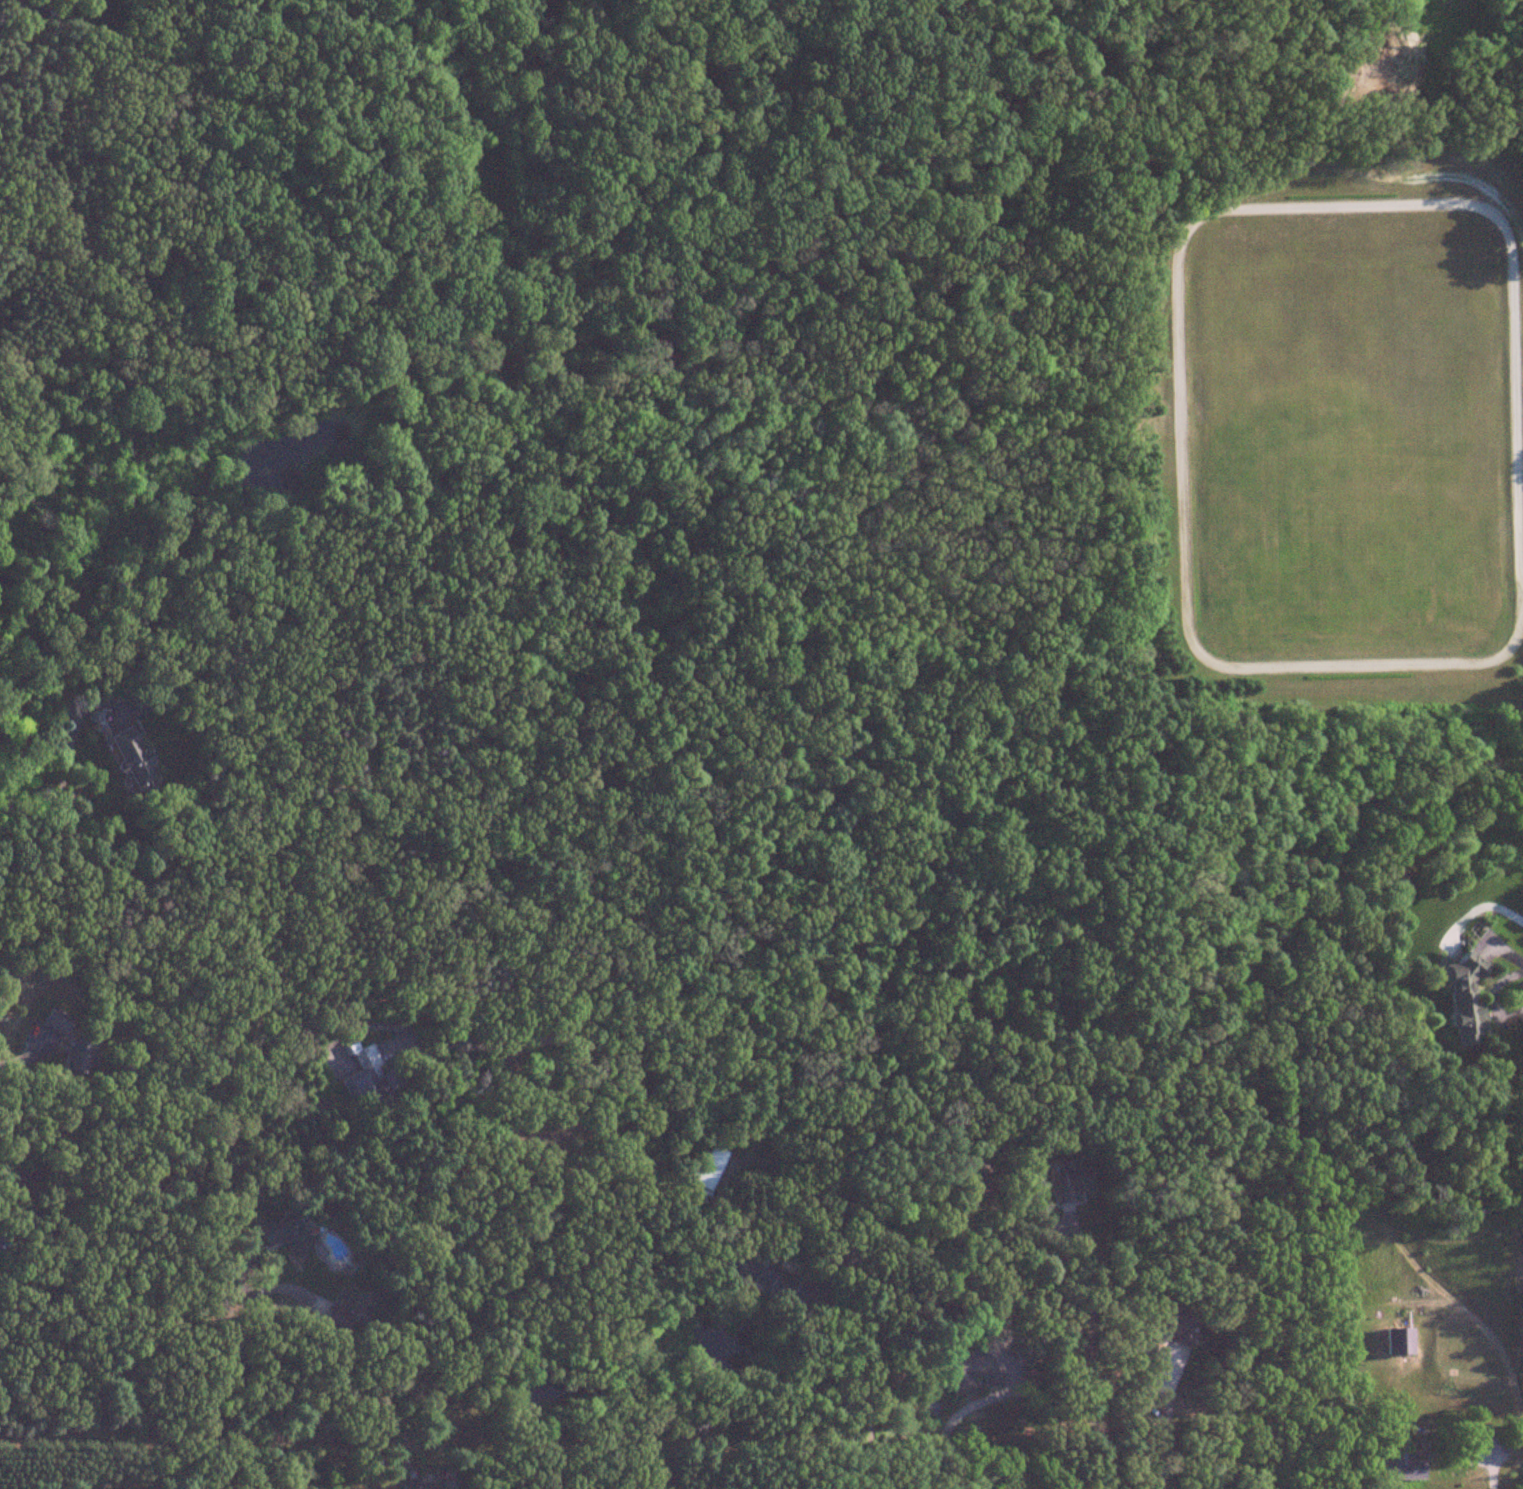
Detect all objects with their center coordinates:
road: (16, 21)
road: (1174, 263)
road: (1521, 603)
building: (132, 760)
road: (60, 796)
road: (1482, 904)
road: (1491, 997)
building: (1463, 999)
building: (55, 1020)
road: (380, 1027)
building: (74, 1056)
road: (10, 1063)
building: (370, 1085)
building: (966, 1165)
building: (703, 1175)
building: (1067, 1181)
road: (647, 1185)
building: (288, 1232)
road: (863, 1306)
building: (339, 1318)
building: (1397, 1342)
road: (1083, 1364)
building: (970, 1370)
road: (949, 1424)
road: (1166, 1434)
building: (1480, 1435)
building: (1399, 1465)
road: (1491, 1473)
building: (426, 1485)

